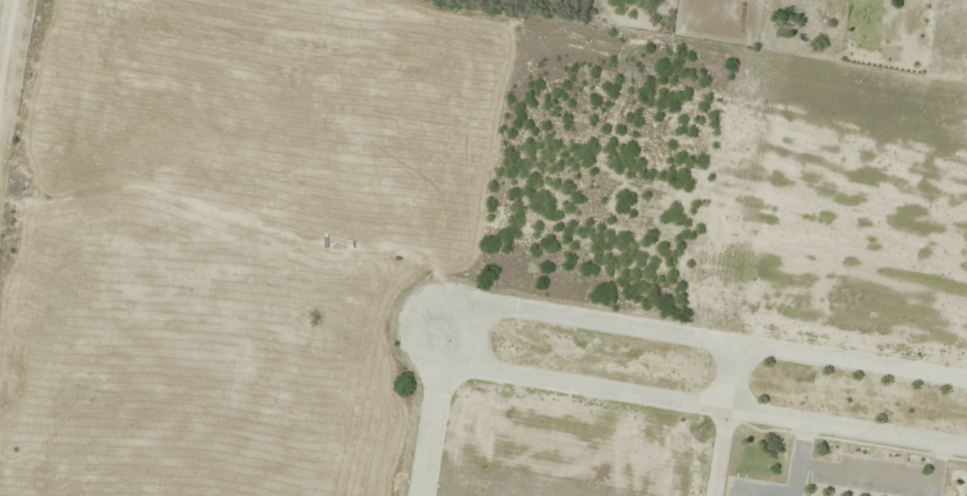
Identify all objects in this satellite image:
road: (451, 324)
road: (432, 407)
road: (727, 420)

